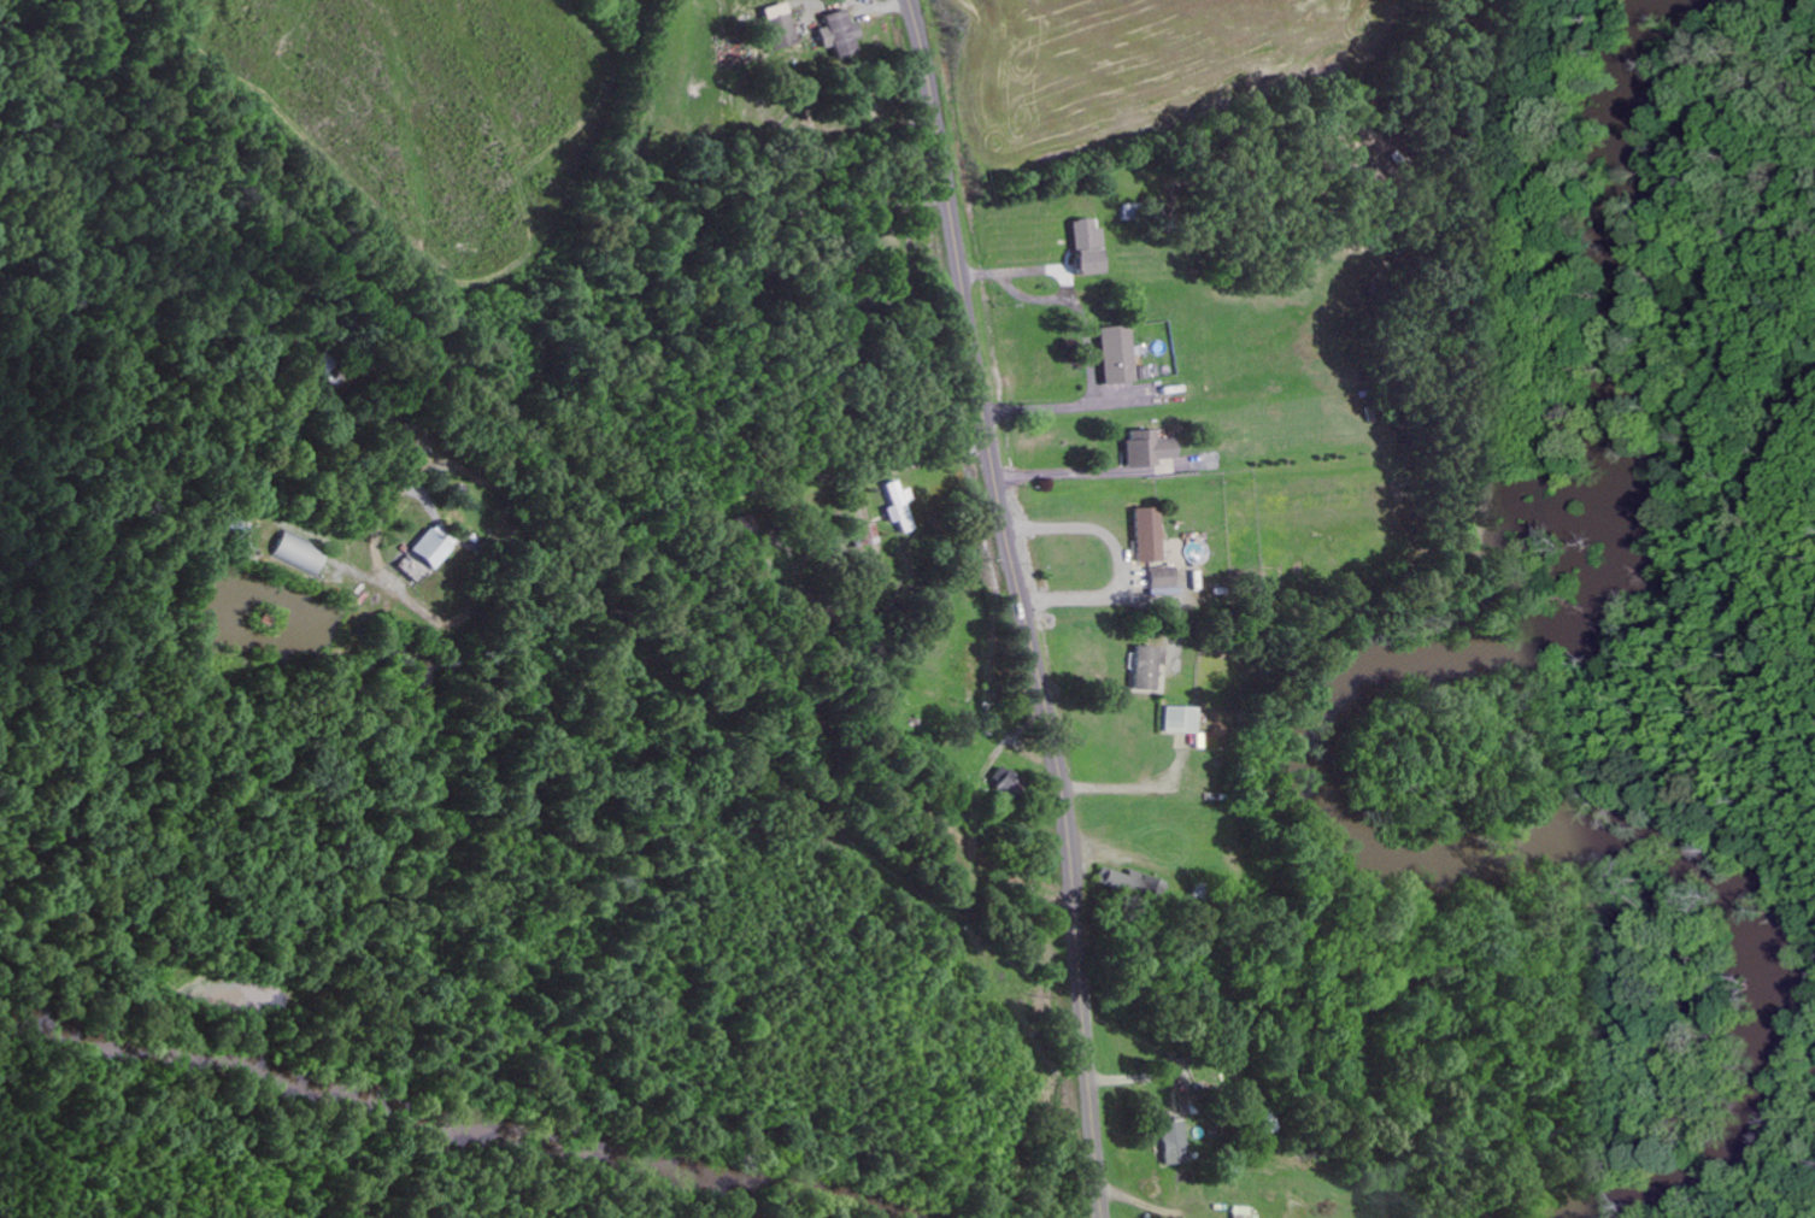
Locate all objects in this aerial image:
building: (779, 24)
building: (838, 35)
building: (1085, 247)
building: (1115, 354)
building: (1146, 448)
building: (898, 506)
building: (746, 524)
building: (865, 534)
building: (1145, 535)
building: (430, 546)
building: (298, 553)
road: (1023, 606)
building: (1144, 667)
building: (1177, 719)
river: (1310, 751)
road: (660, 753)
building: (1005, 784)
building: (1132, 883)
building: (1173, 1141)
building: (1238, 1212)

